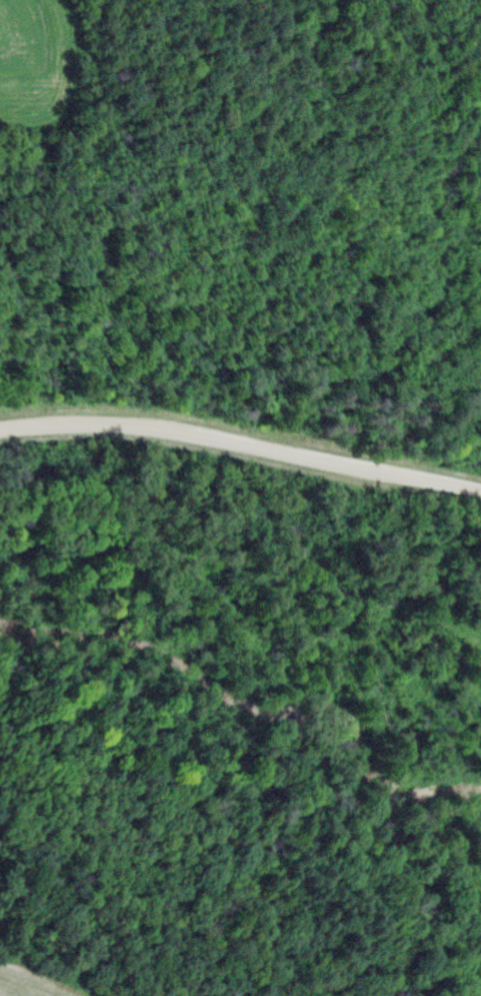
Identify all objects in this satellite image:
road: (241, 443)

